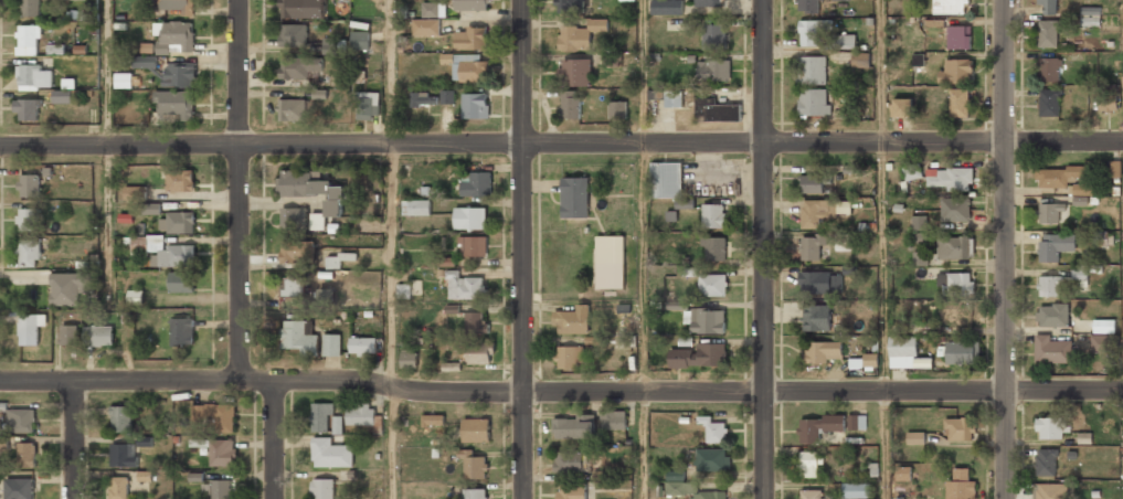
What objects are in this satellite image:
building: (74, 0)
building: (709, 3)
building: (176, 6)
building: (470, 6)
building: (570, 6)
building: (807, 6)
building: (951, 7)
building: (667, 8)
building: (1048, 8)
building: (30, 9)
building: (293, 9)
building: (431, 10)
building: (1090, 17)
building: (425, 28)
building: (808, 33)
building: (579, 35)
building: (714, 35)
building: (1048, 35)
building: (293, 36)
building: (174, 38)
building: (958, 38)
building: (470, 39)
building: (360, 40)
building: (29, 41)
building: (846, 42)
building: (861, 60)
building: (918, 60)
building: (144, 62)
building: (300, 70)
building: (470, 70)
building: (1049, 70)
building: (813, 71)
building: (713, 72)
building: (956, 72)
building: (576, 73)
building: (180, 74)
building: (34, 77)
building: (124, 81)
building: (63, 96)
building: (447, 96)
building: (424, 98)
building: (672, 99)
building: (1109, 99)
building: (960, 103)
building: (1049, 103)
building: (813, 104)
building: (174, 105)
building: (570, 105)
building: (475, 106)
building: (368, 107)
building: (292, 109)
building: (901, 109)
building: (27, 110)
building: (617, 110)
building: (719, 113)
road: (106, 139)
road: (1063, 140)
road: (501, 142)
building: (852, 168)
building: (1115, 168)
building: (912, 171)
building: (1056, 178)
building: (950, 179)
building: (180, 181)
building: (666, 181)
building: (476, 184)
building: (813, 184)
building: (29, 187)
road: (239, 191)
building: (135, 192)
building: (311, 193)
road: (391, 194)
building: (575, 198)
building: (1080, 200)
building: (151, 208)
building: (416, 208)
building: (955, 210)
building: (823, 212)
building: (1049, 214)
building: (714, 215)
building: (294, 219)
building: (470, 219)
building: (28, 221)
building: (182, 223)
building: (919, 223)
building: (844, 242)
building: (1055, 245)
building: (474, 247)
building: (814, 247)
building: (955, 247)
building: (714, 248)
road: (882, 248)
road: (521, 250)
road: (644, 250)
road: (763, 250)
road: (1004, 250)
building: (292, 254)
building: (29, 255)
building: (176, 256)
building: (920, 258)
building: (337, 259)
building: (608, 262)
building: (1079, 276)
building: (181, 283)
building: (819, 283)
building: (956, 284)
building: (712, 285)
building: (1050, 286)
building: (294, 287)
building: (466, 288)
building: (68, 289)
building: (404, 290)
building: (327, 296)
building: (136, 297)
building: (678, 305)
building: (1052, 315)
building: (816, 317)
building: (960, 319)
building: (708, 321)
building: (475, 322)
building: (1104, 326)
building: (29, 331)
building: (182, 332)
building: (68, 336)
building: (98, 337)
building: (299, 337)
building: (558, 340)
building: (1103, 342)
building: (331, 346)
building: (362, 346)
building: (1051, 351)
building: (824, 352)
building: (477, 353)
building: (905, 353)
building: (961, 353)
building: (699, 357)
building: (409, 360)
building: (864, 362)
road: (1063, 390)
road: (501, 393)
building: (360, 414)
building: (215, 416)
building: (321, 416)
building: (121, 420)
building: (434, 420)
building: (618, 421)
building: (21, 422)
building: (856, 423)
building: (338, 425)
building: (573, 427)
building: (819, 427)
building: (713, 428)
building: (1050, 428)
building: (476, 429)
building: (958, 429)
building: (917, 438)
road: (73, 439)
road: (275, 439)
building: (2, 442)
road: (392, 444)
building: (222, 453)
building: (330, 454)
building: (27, 455)
building: (123, 456)
building: (713, 459)
building: (570, 463)
building: (1046, 463)
building: (474, 466)
building: (809, 466)
building: (902, 474)
building: (145, 476)
building: (679, 484)
building: (961, 486)
building: (118, 488)
building: (20, 489)
building: (220, 489)
building: (322, 489)
building: (855, 491)
building: (1050, 491)
building: (572, 492)
building: (475, 493)
building: (811, 495)
building: (710, 496)

